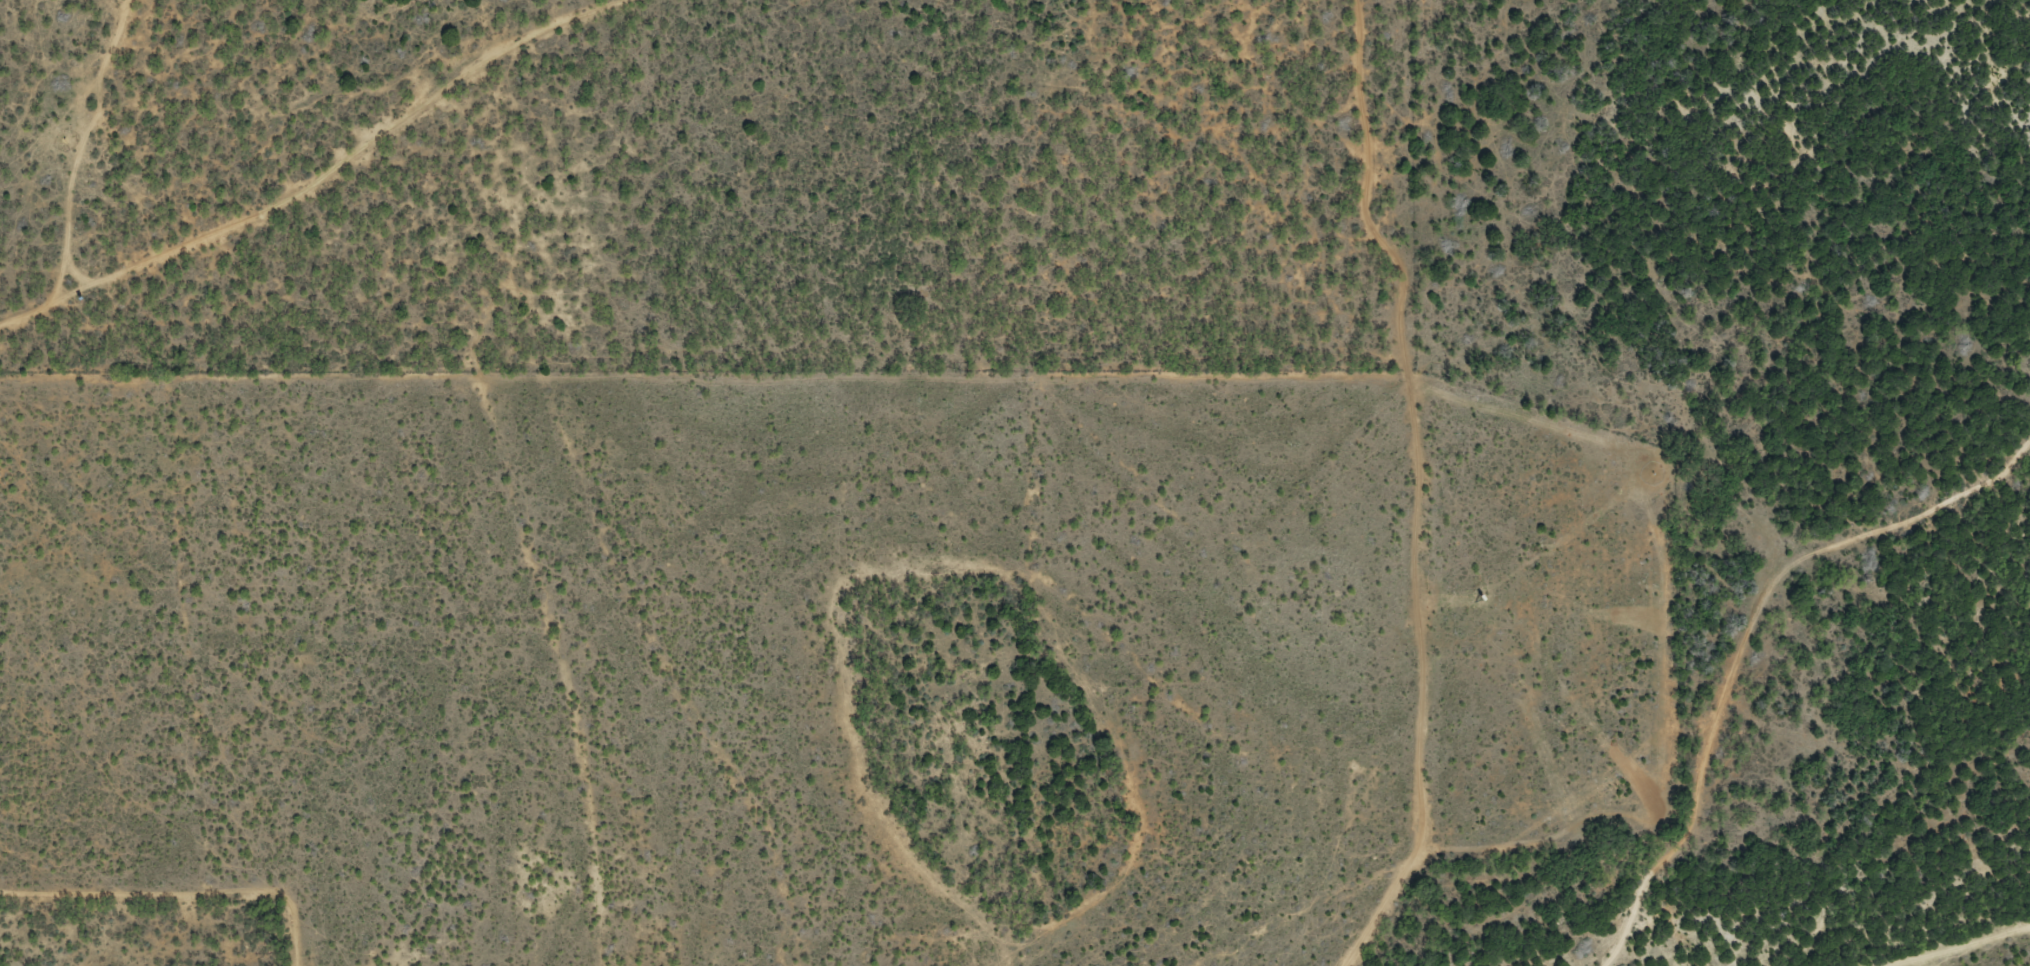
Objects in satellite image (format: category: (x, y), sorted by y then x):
road: (377, 173)

